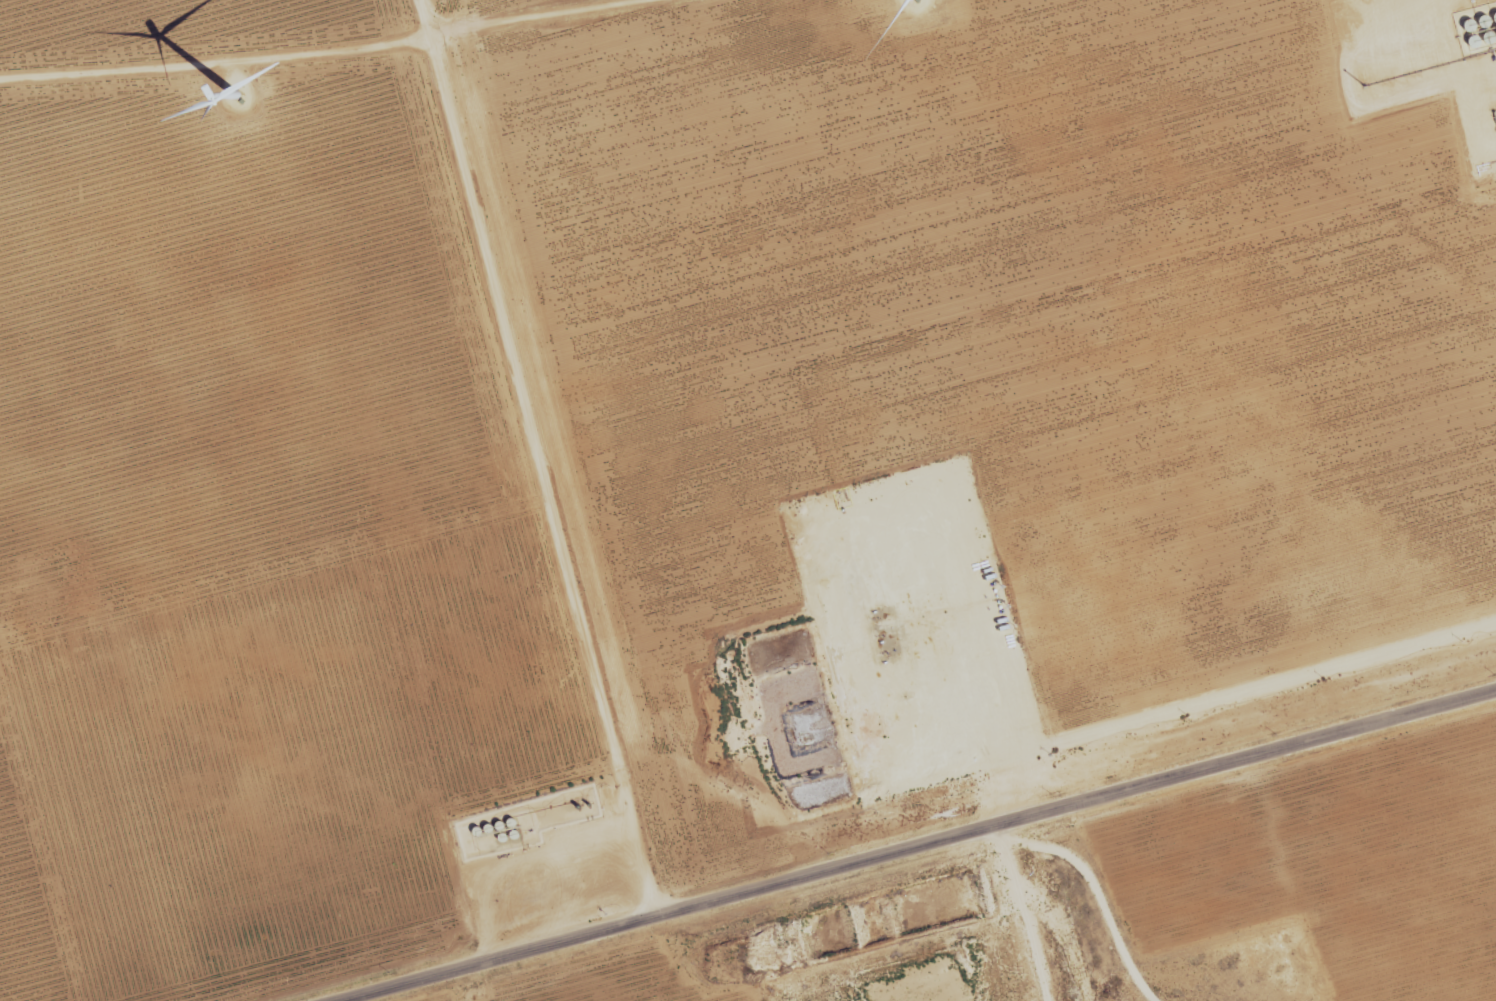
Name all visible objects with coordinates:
wind turbine: (231, 98)
road: (1234, 699)
road: (911, 844)
road: (1093, 890)

